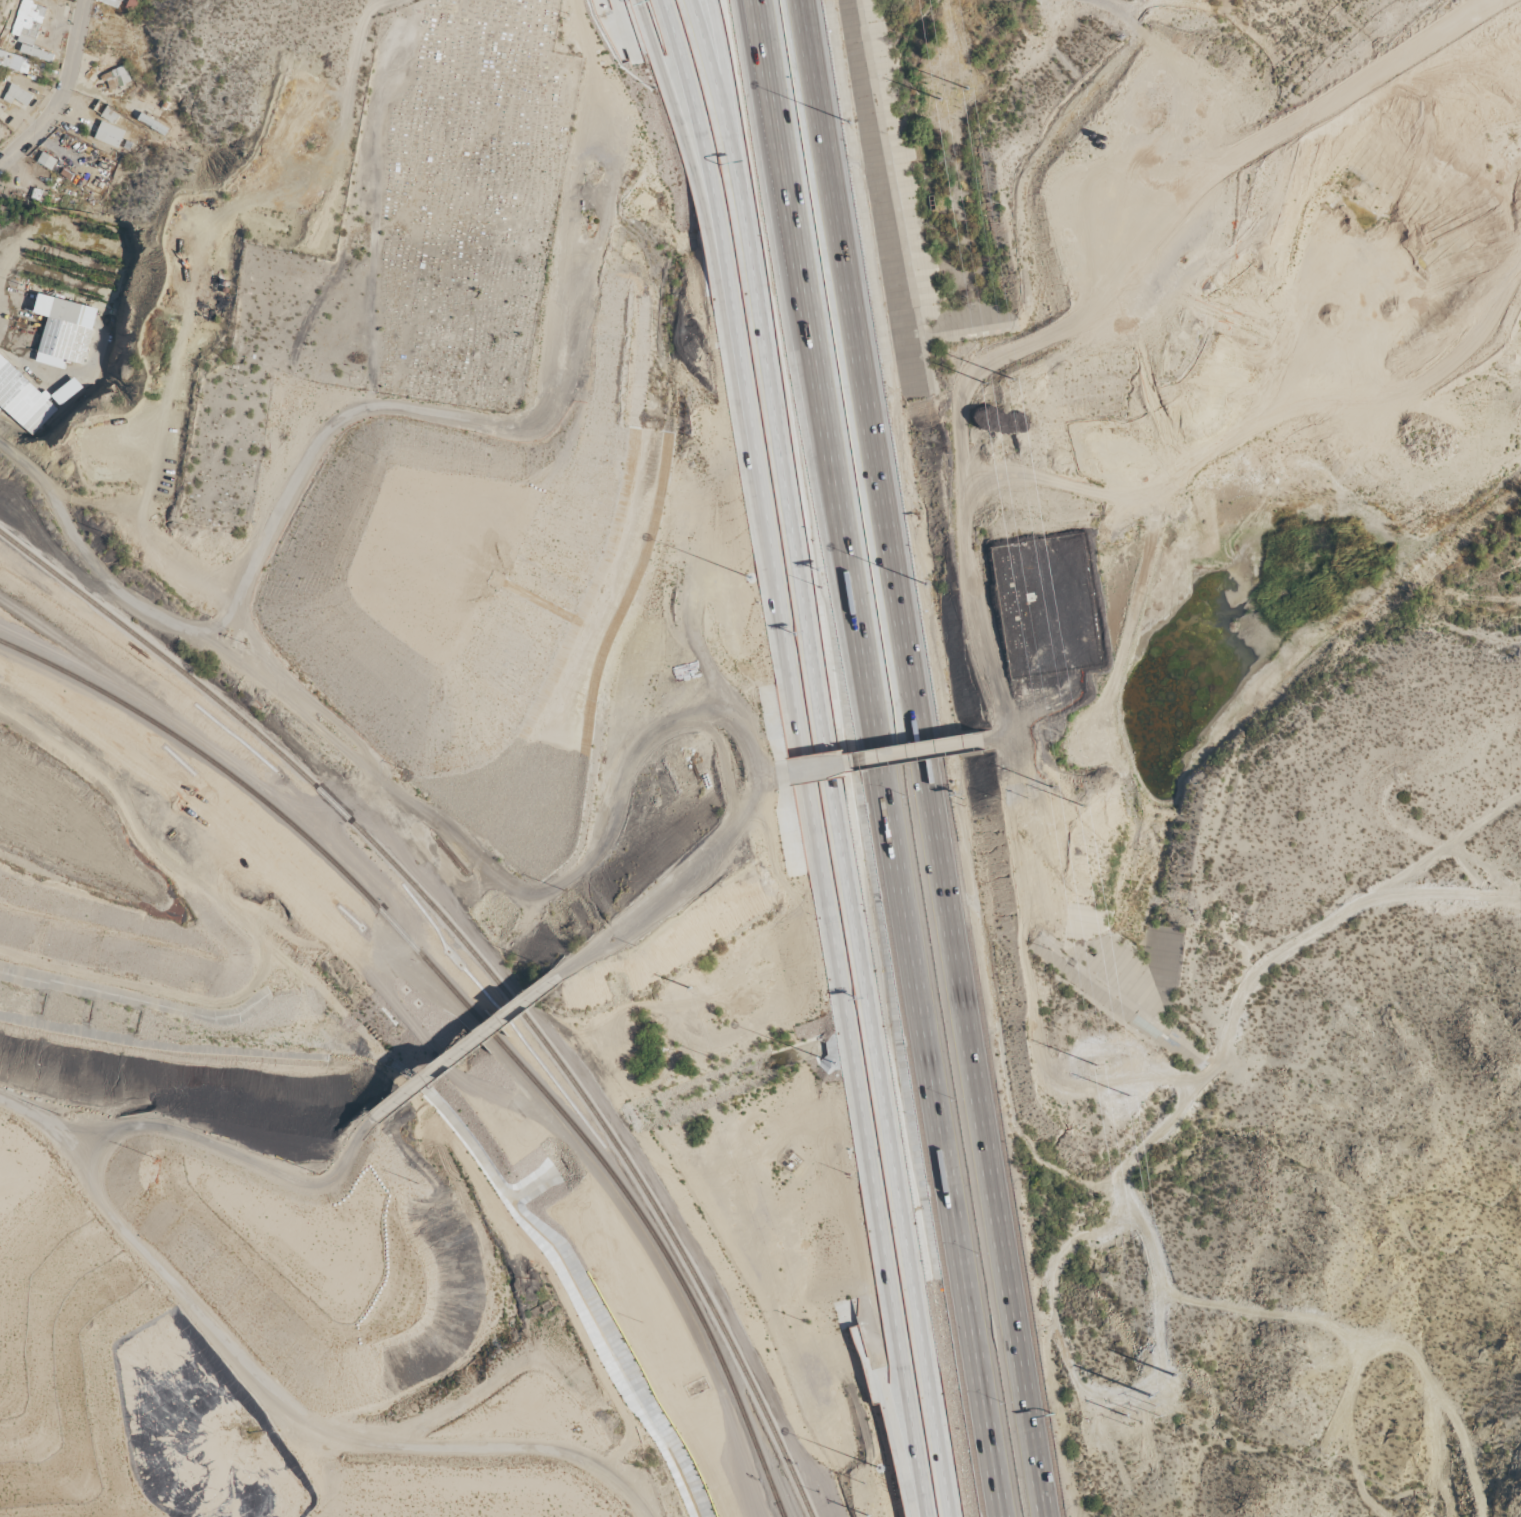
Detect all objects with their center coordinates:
road: (706, 1)
building: (110, 2)
building: (132, 4)
road: (1112, 10)
building: (28, 22)
building: (36, 53)
building: (14, 62)
building: (116, 78)
power tower: (966, 89)
road: (63, 94)
building: (17, 96)
power tower: (939, 101)
building: (109, 116)
road: (680, 123)
building: (153, 124)
building: (109, 135)
building: (47, 161)
park: (415, 241)
building: (64, 331)
power tower: (1011, 376)
power tower: (984, 379)
building: (65, 391)
building: (22, 399)
road: (298, 481)
road: (810, 755)
road: (892, 755)
road: (834, 757)
road: (881, 758)
road: (924, 758)
power tower: (1049, 783)
power tower: (1080, 804)
road: (677, 877)
road: (1475, 881)
road: (1422, 893)
railway: (481, 960)
road: (1237, 999)
railway: (461, 1005)
power tower: (1113, 1032)
power tower: (1084, 1039)
road: (464, 1047)
power tower: (1298, 1284)
road: (198, 1311)
power tower: (1299, 1344)
power tower: (1306, 1350)
power tower: (1130, 1418)
railway: (119, 1446)
railway: (775, 1509)
railway: (776, 1509)
power tower: (868, 1513)

